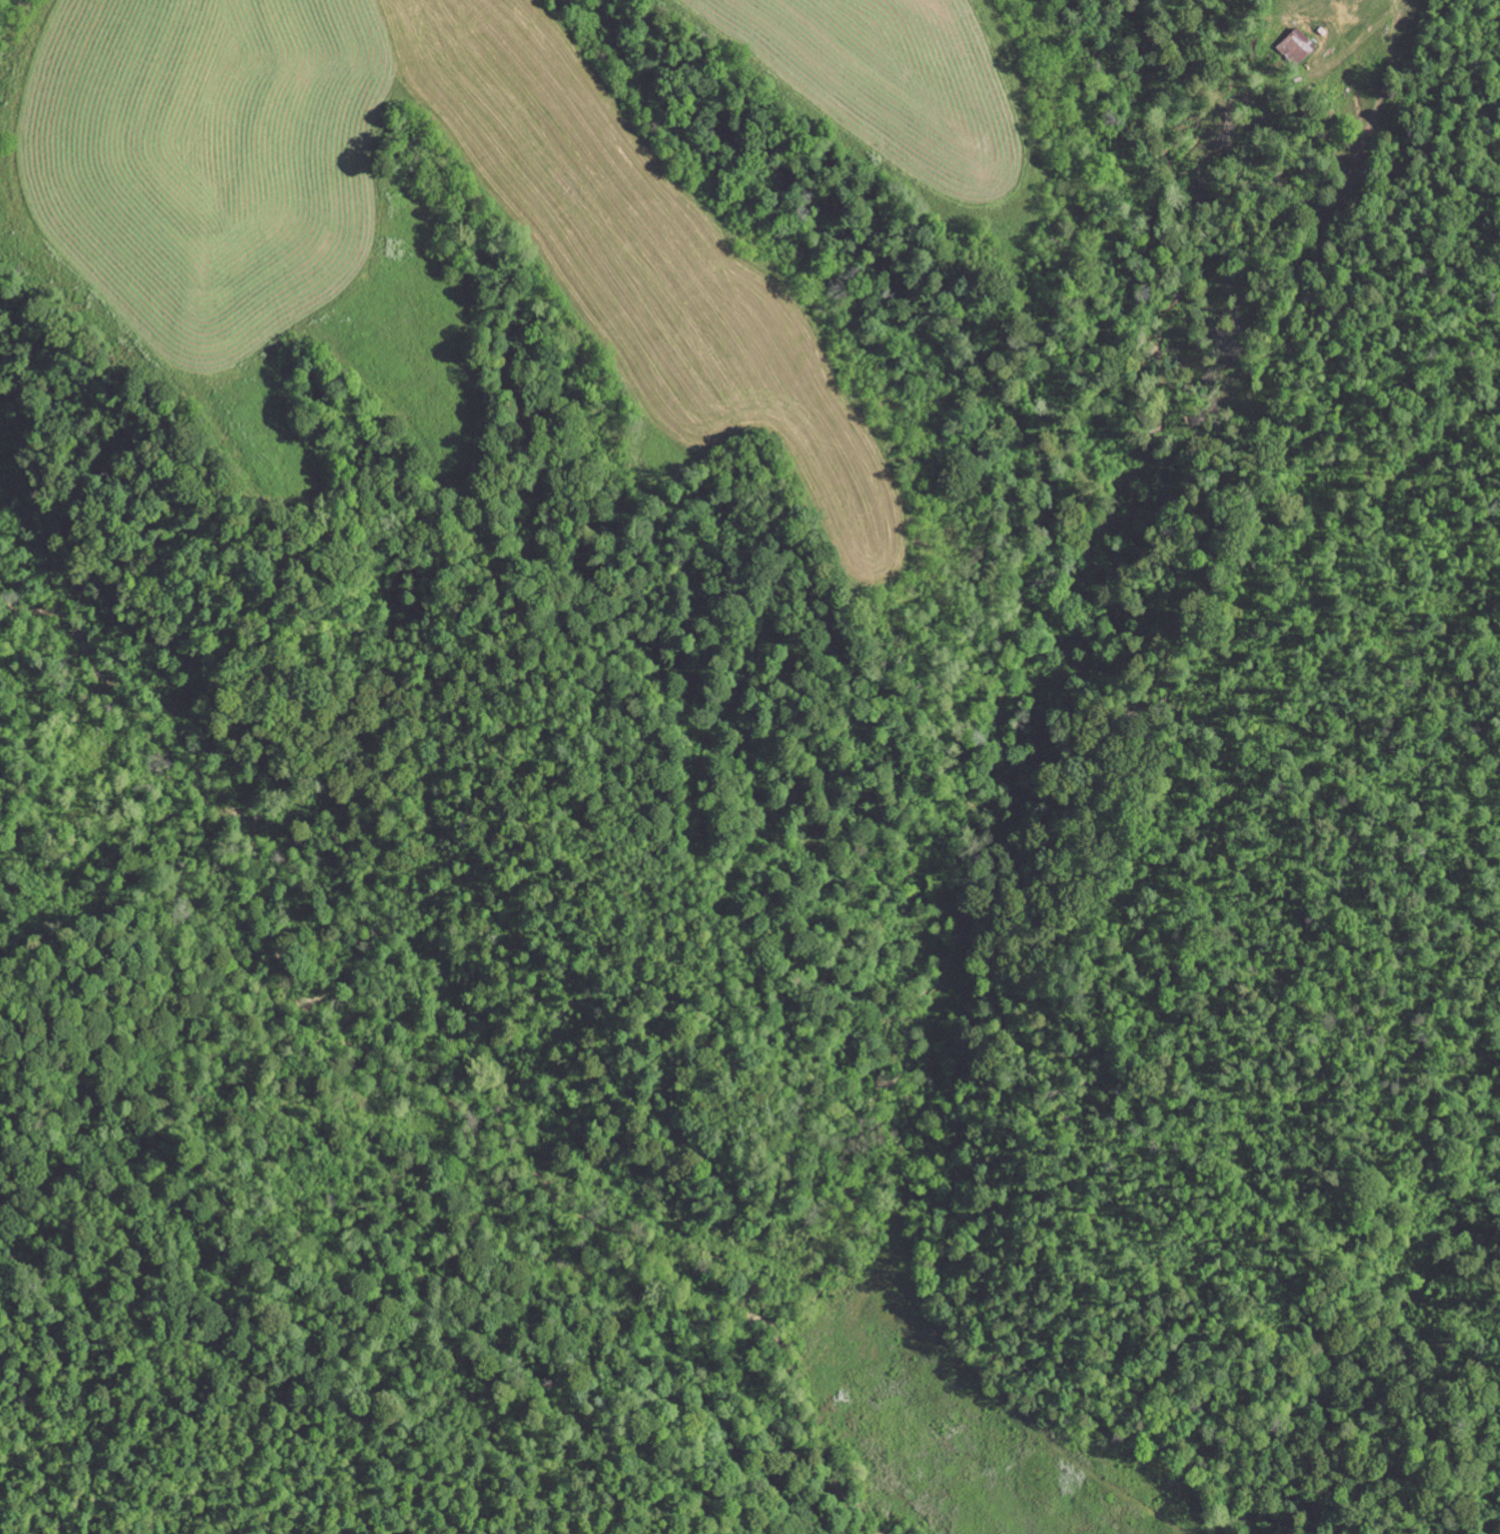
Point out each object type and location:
building: (1297, 45)
road: (1257, 1386)
road: (1442, 1455)

